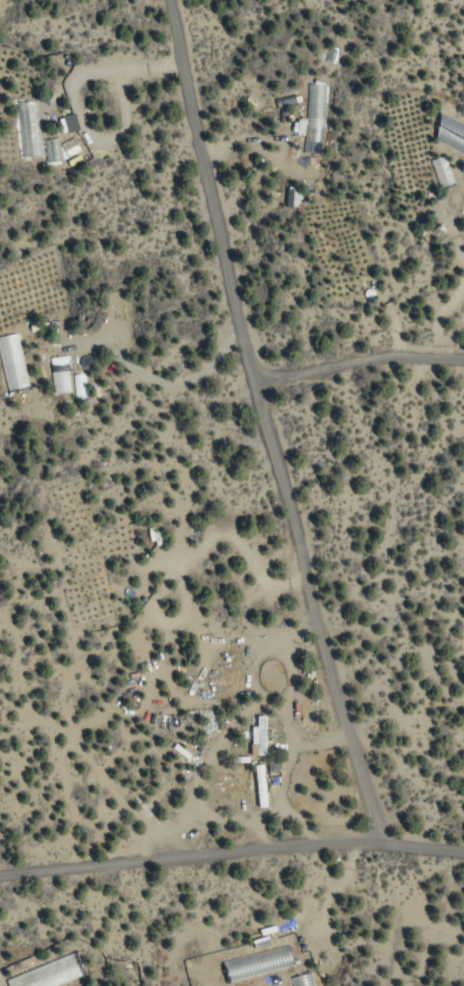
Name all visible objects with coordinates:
building: (26, 128)
road: (355, 357)
building: (46, 359)
building: (11, 364)
road: (259, 421)
building: (256, 785)
road: (231, 847)

